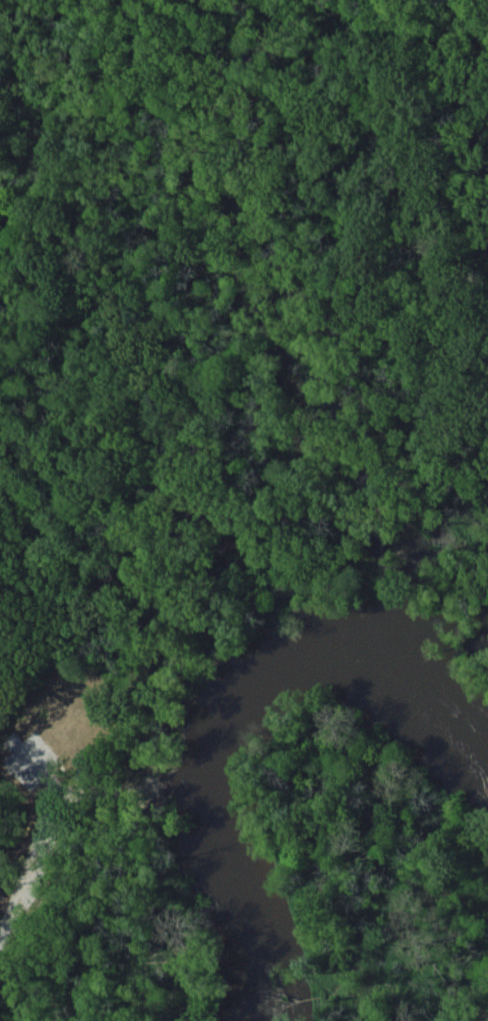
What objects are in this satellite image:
building: (80, 725)
river: (225, 730)
road: (57, 840)

